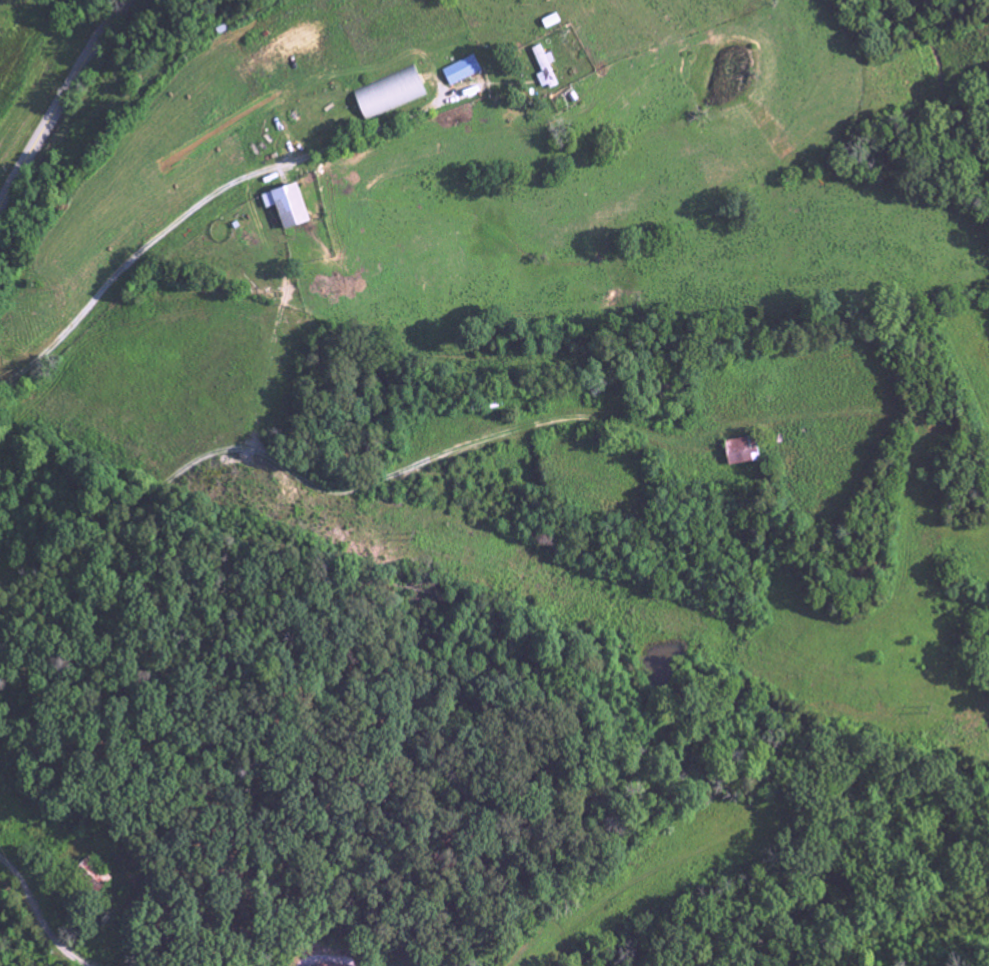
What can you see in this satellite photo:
building: (544, 68)
building: (461, 70)
building: (389, 94)
road: (61, 101)
road: (213, 194)
building: (286, 206)
road: (203, 448)
building: (740, 451)
power tower: (420, 535)
power tower: (935, 708)
building: (91, 874)
road: (38, 918)
building: (322, 965)

